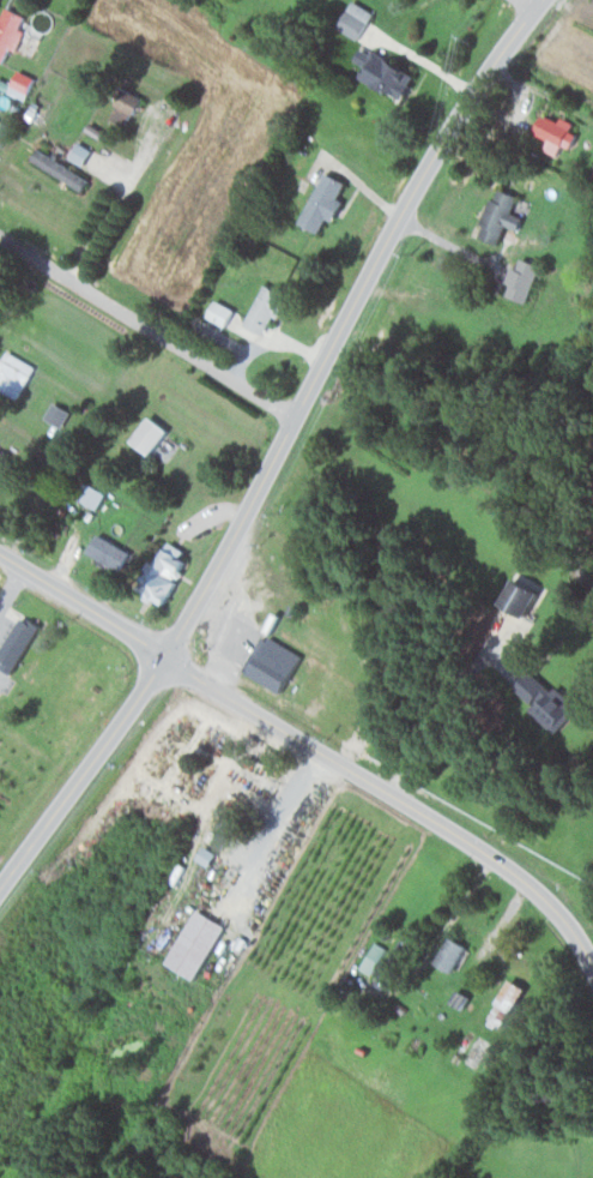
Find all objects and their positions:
road: (526, 5)
road: (538, 5)
building: (356, 19)
building: (11, 31)
crop: (570, 48)
road: (420, 59)
building: (387, 72)
building: (5, 83)
building: (23, 84)
building: (0, 90)
road: (555, 100)
building: (127, 106)
road: (518, 109)
building: (34, 114)
building: (1, 124)
building: (556, 133)
building: (2, 140)
crop: (201, 146)
road: (155, 150)
building: (81, 152)
building: (62, 169)
road: (110, 169)
building: (592, 174)
road: (352, 175)
building: (272, 198)
building: (323, 203)
building: (500, 215)
road: (452, 244)
building: (232, 268)
building: (521, 281)
building: (266, 308)
building: (219, 312)
road: (146, 327)
road: (276, 339)
road: (242, 356)
building: (16, 374)
building: (151, 434)
road: (276, 453)
building: (7, 467)
road: (42, 482)
building: (95, 495)
road: (213, 512)
building: (110, 552)
road: (65, 563)
building: (167, 573)
building: (518, 597)
parking lot: (8, 609)
flagpole: (46, 619)
building: (17, 643)
traffic signals: (165, 656)
road: (504, 659)
building: (274, 663)
road: (195, 674)
parking lot: (5, 681)
building: (546, 702)
road: (450, 703)
building: (229, 823)
road: (274, 827)
building: (222, 840)
building: (207, 857)
road: (504, 859)
building: (241, 942)
building: (196, 943)
building: (454, 952)
building: (387, 960)
building: (509, 1003)

